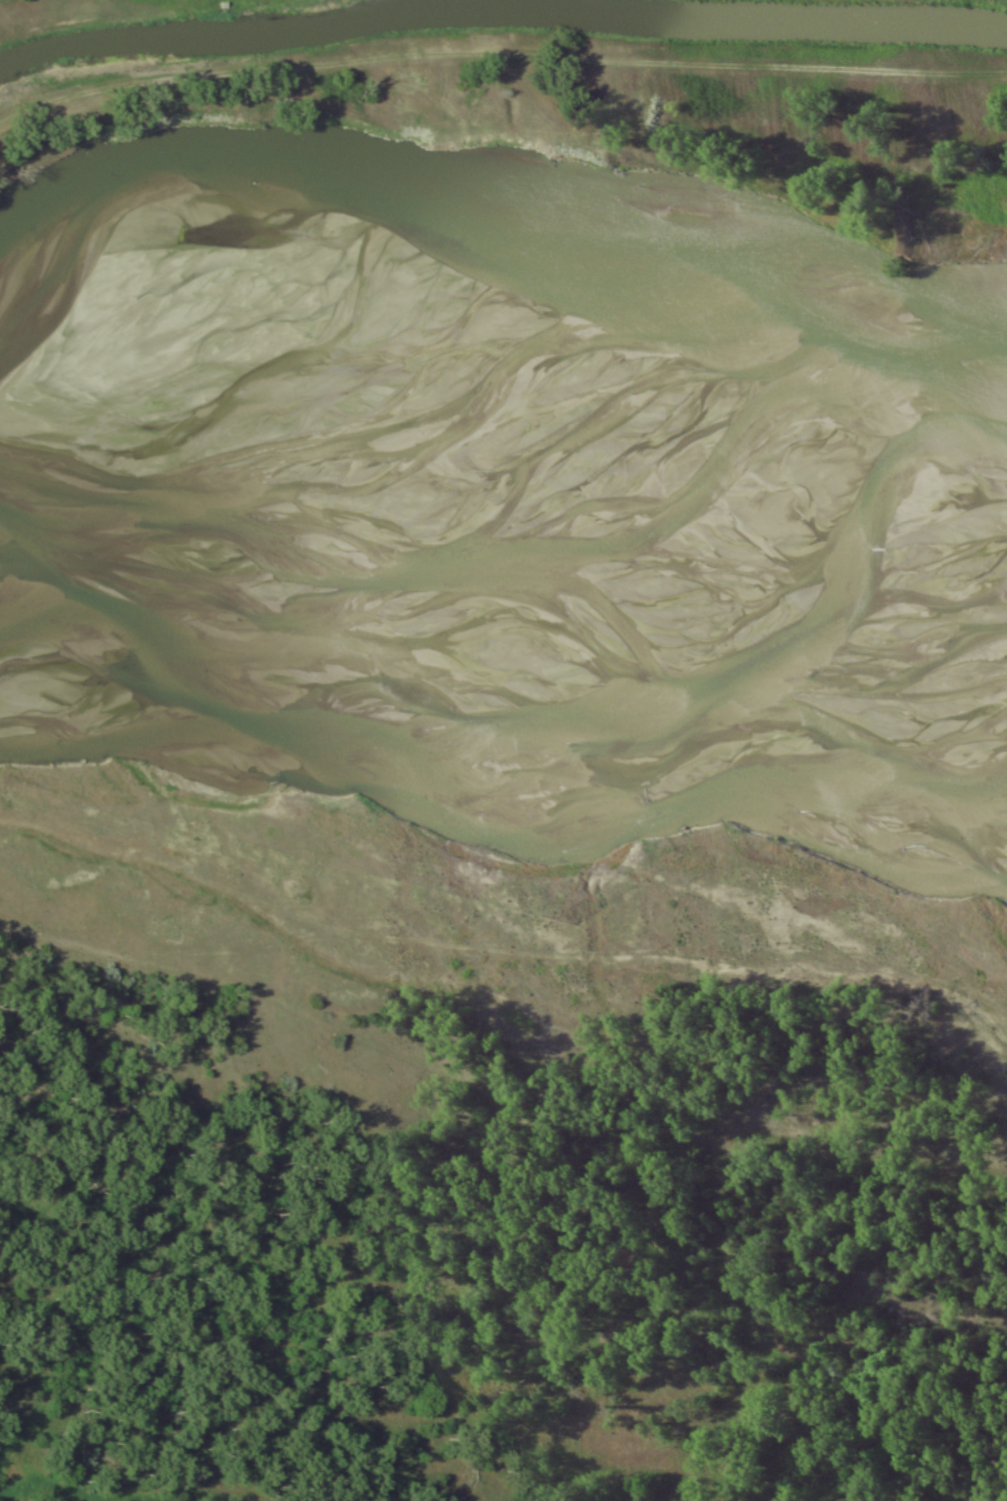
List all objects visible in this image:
road: (500, 60)
river: (506, 352)

